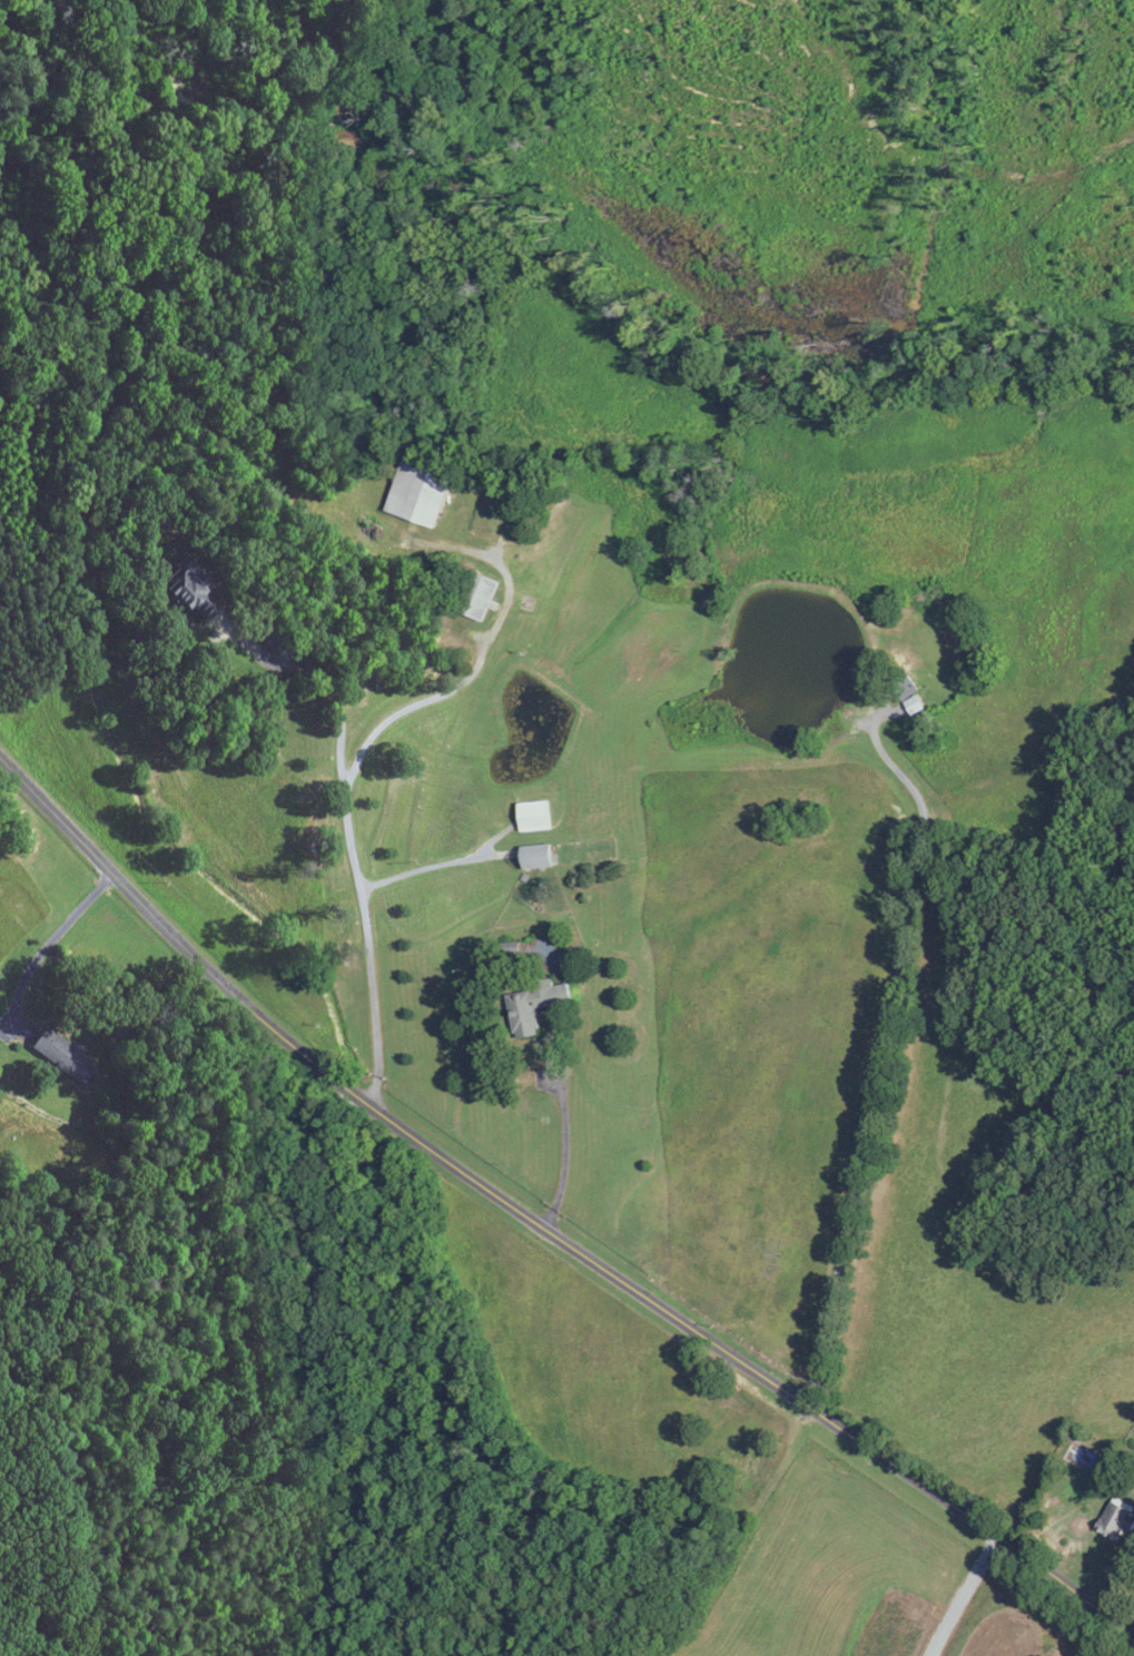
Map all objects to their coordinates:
building: (422, 490)
building: (193, 591)
building: (477, 598)
building: (274, 639)
road: (328, 680)
building: (904, 687)
road: (349, 782)
building: (535, 817)
building: (538, 857)
road: (426, 868)
road: (51, 938)
building: (535, 1004)
road: (885, 1054)
building: (65, 1055)
road: (562, 1145)
road: (543, 1226)
building: (1117, 1518)
road: (964, 1594)

